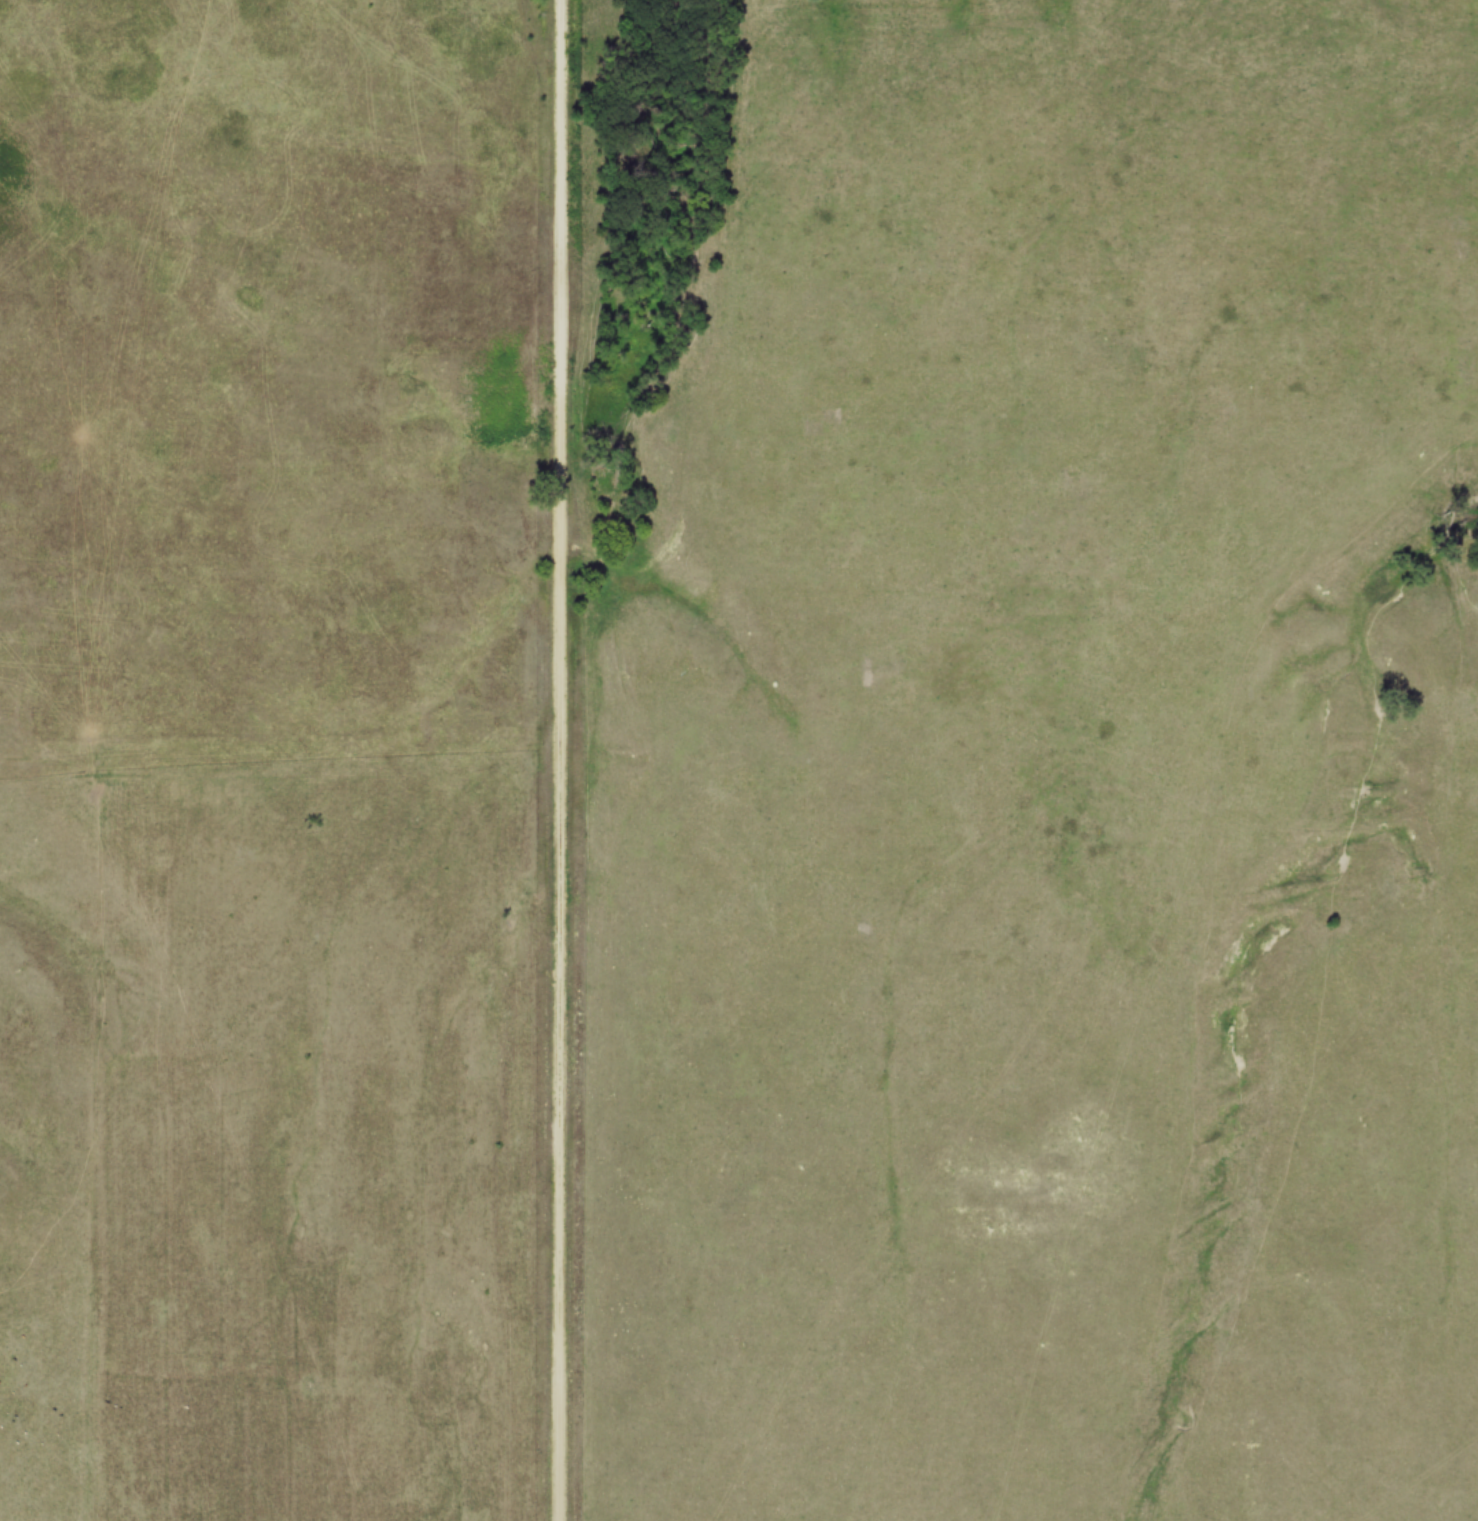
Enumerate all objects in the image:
road: (557, 760)

